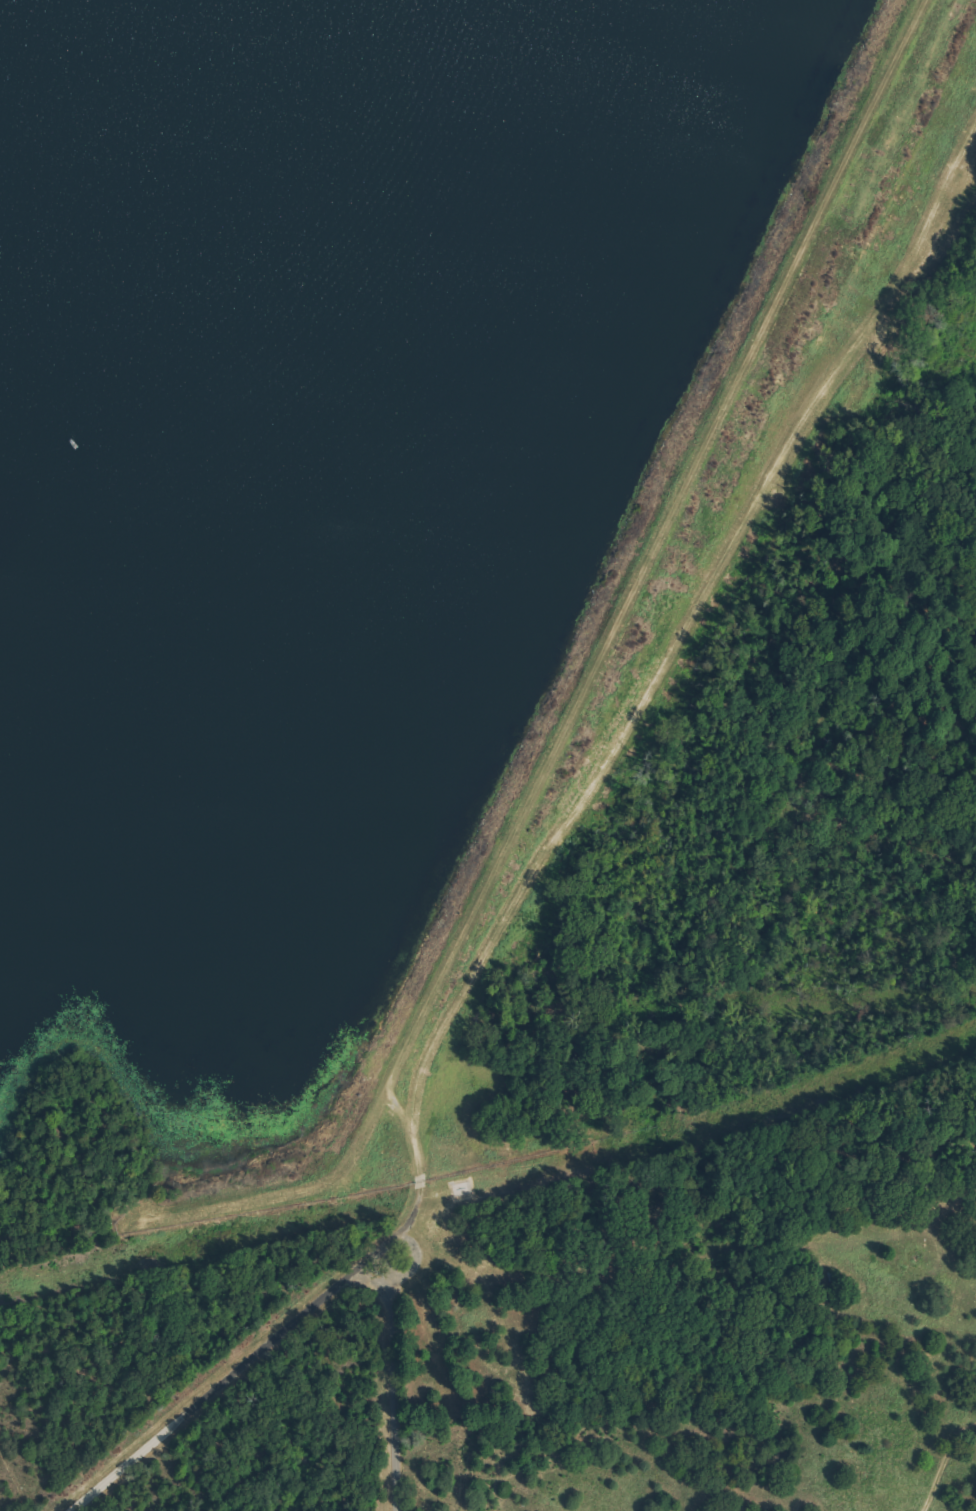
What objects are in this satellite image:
dam: (642, 585)
road: (392, 1355)
road: (214, 1387)
road: (393, 1474)

